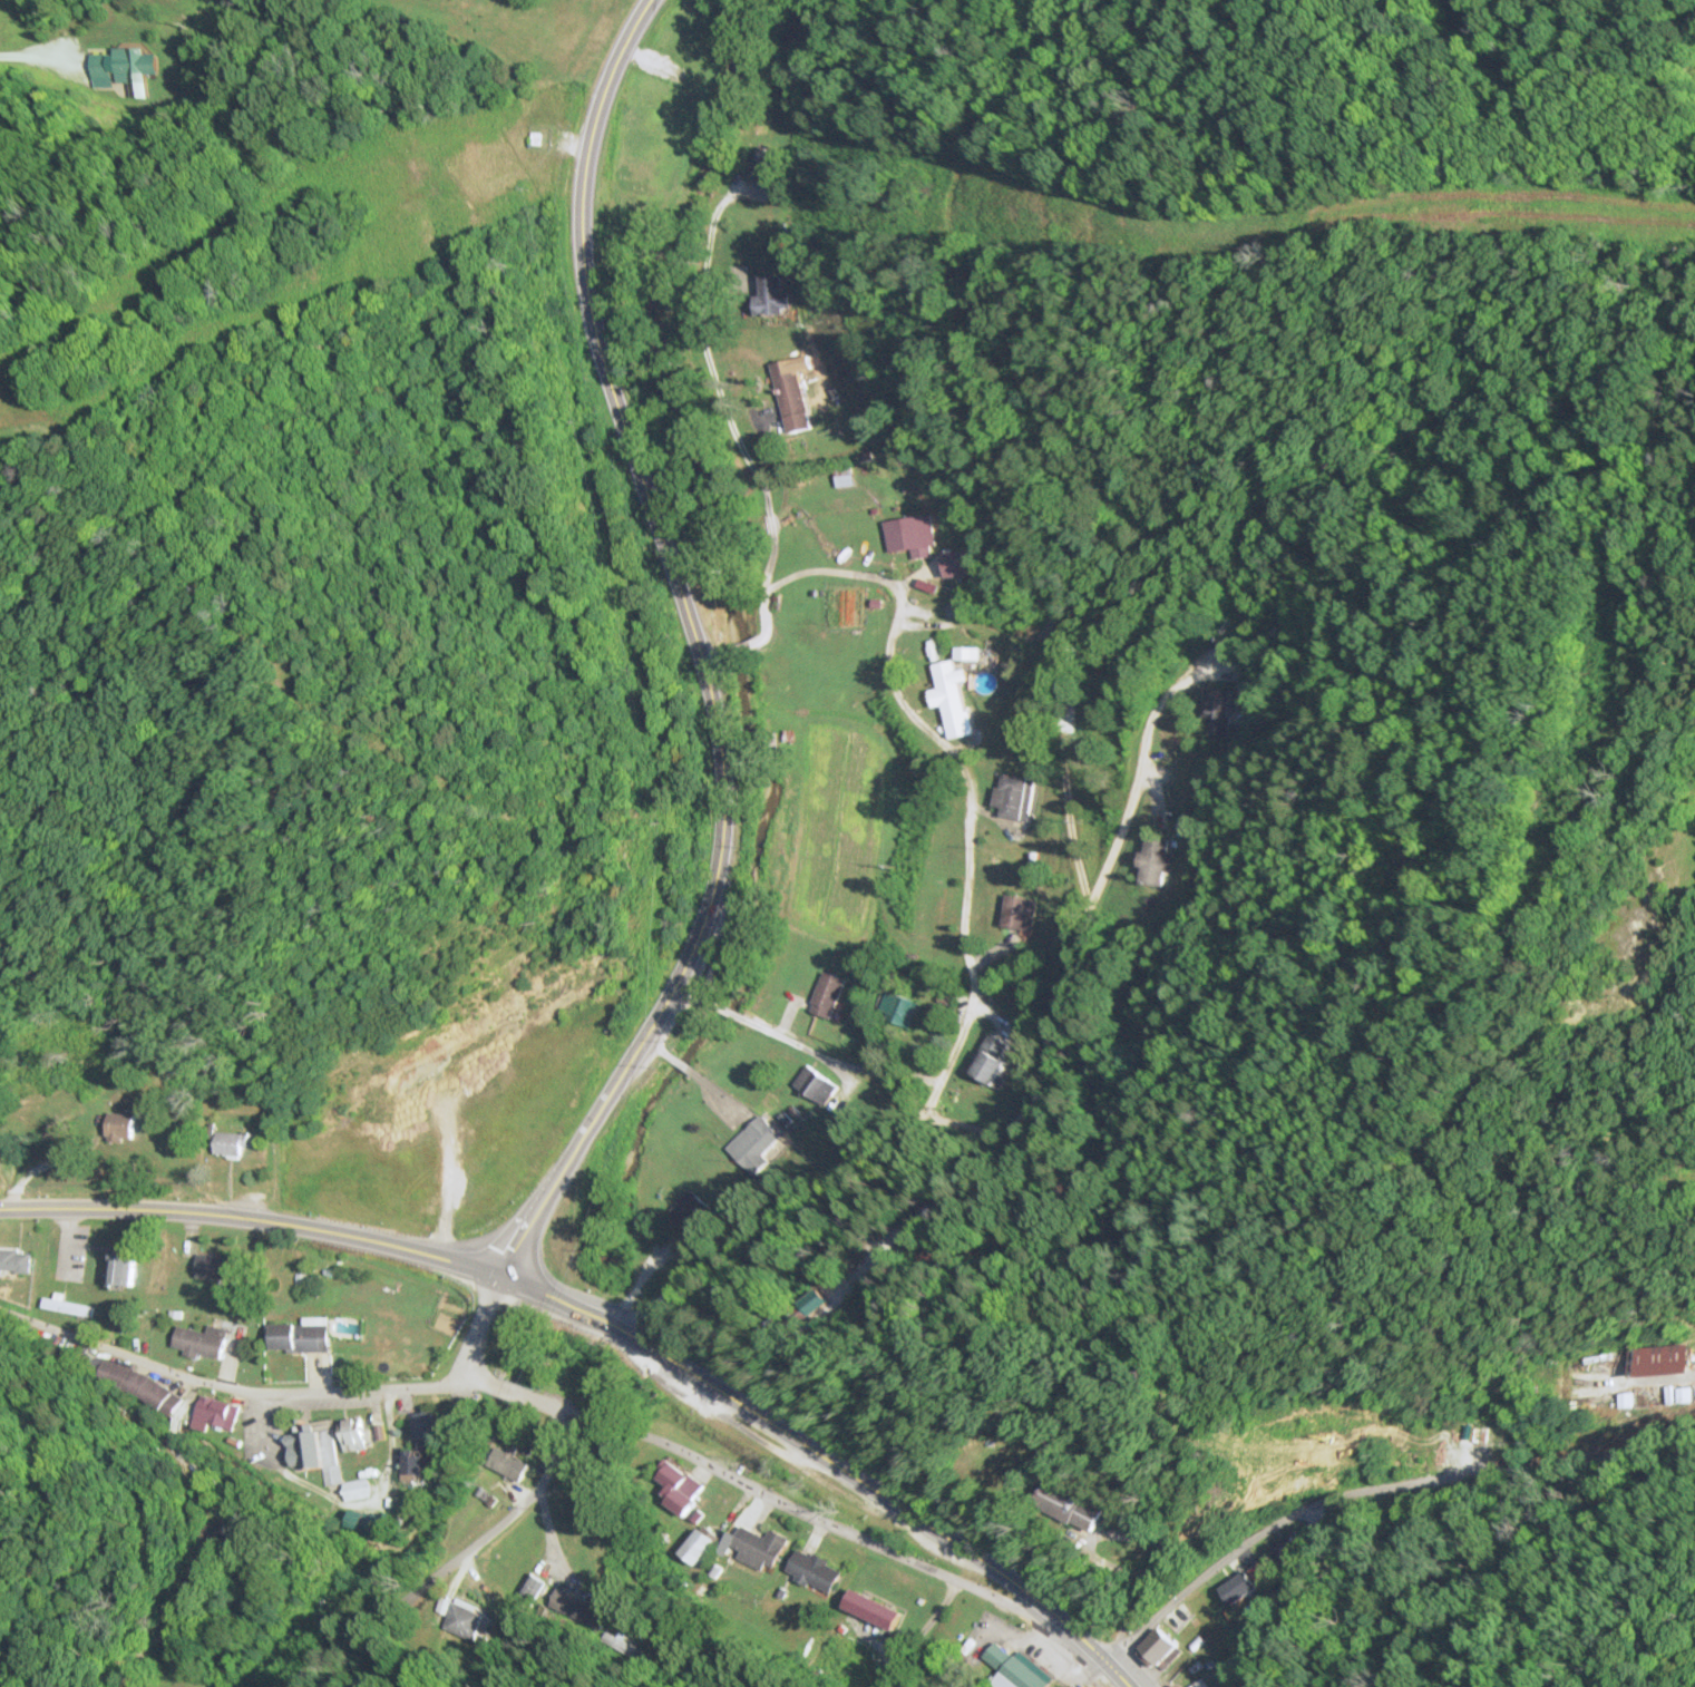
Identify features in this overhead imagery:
building: (134, 65)
building: (100, 67)
building: (766, 167)
building: (772, 296)
building: (791, 396)
road: (758, 486)
building: (912, 535)
building: (956, 564)
road: (684, 617)
river: (731, 630)
road: (733, 646)
road: (710, 653)
building: (949, 698)
building: (1218, 709)
road: (962, 772)
building: (1013, 796)
building: (1156, 860)
building: (1020, 911)
building: (826, 994)
building: (898, 1008)
building: (990, 1061)
building: (816, 1084)
road: (1114, 1104)
building: (118, 1125)
building: (230, 1142)
building: (758, 1145)
building: (693, 1211)
road: (249, 1218)
road: (510, 1245)
building: (14, 1260)
building: (214, 1266)
building: (120, 1271)
building: (806, 1297)
building: (67, 1307)
river: (588, 1309)
road: (473, 1327)
building: (299, 1337)
building: (199, 1342)
building: (1660, 1361)
building: (129, 1381)
road: (538, 1403)
building: (215, 1414)
building: (426, 1430)
building: (351, 1434)
building: (315, 1454)
road: (822, 1461)
building: (415, 1465)
road: (1368, 1480)
building: (676, 1486)
building: (1063, 1506)
building: (367, 1522)
building: (207, 1545)
building: (758, 1547)
building: (1290, 1551)
road: (447, 1566)
building: (812, 1570)
building: (1244, 1583)
building: (533, 1587)
building: (577, 1607)
building: (870, 1610)
building: (461, 1618)
building: (1158, 1650)
building: (1011, 1670)
building: (1201, 1684)

